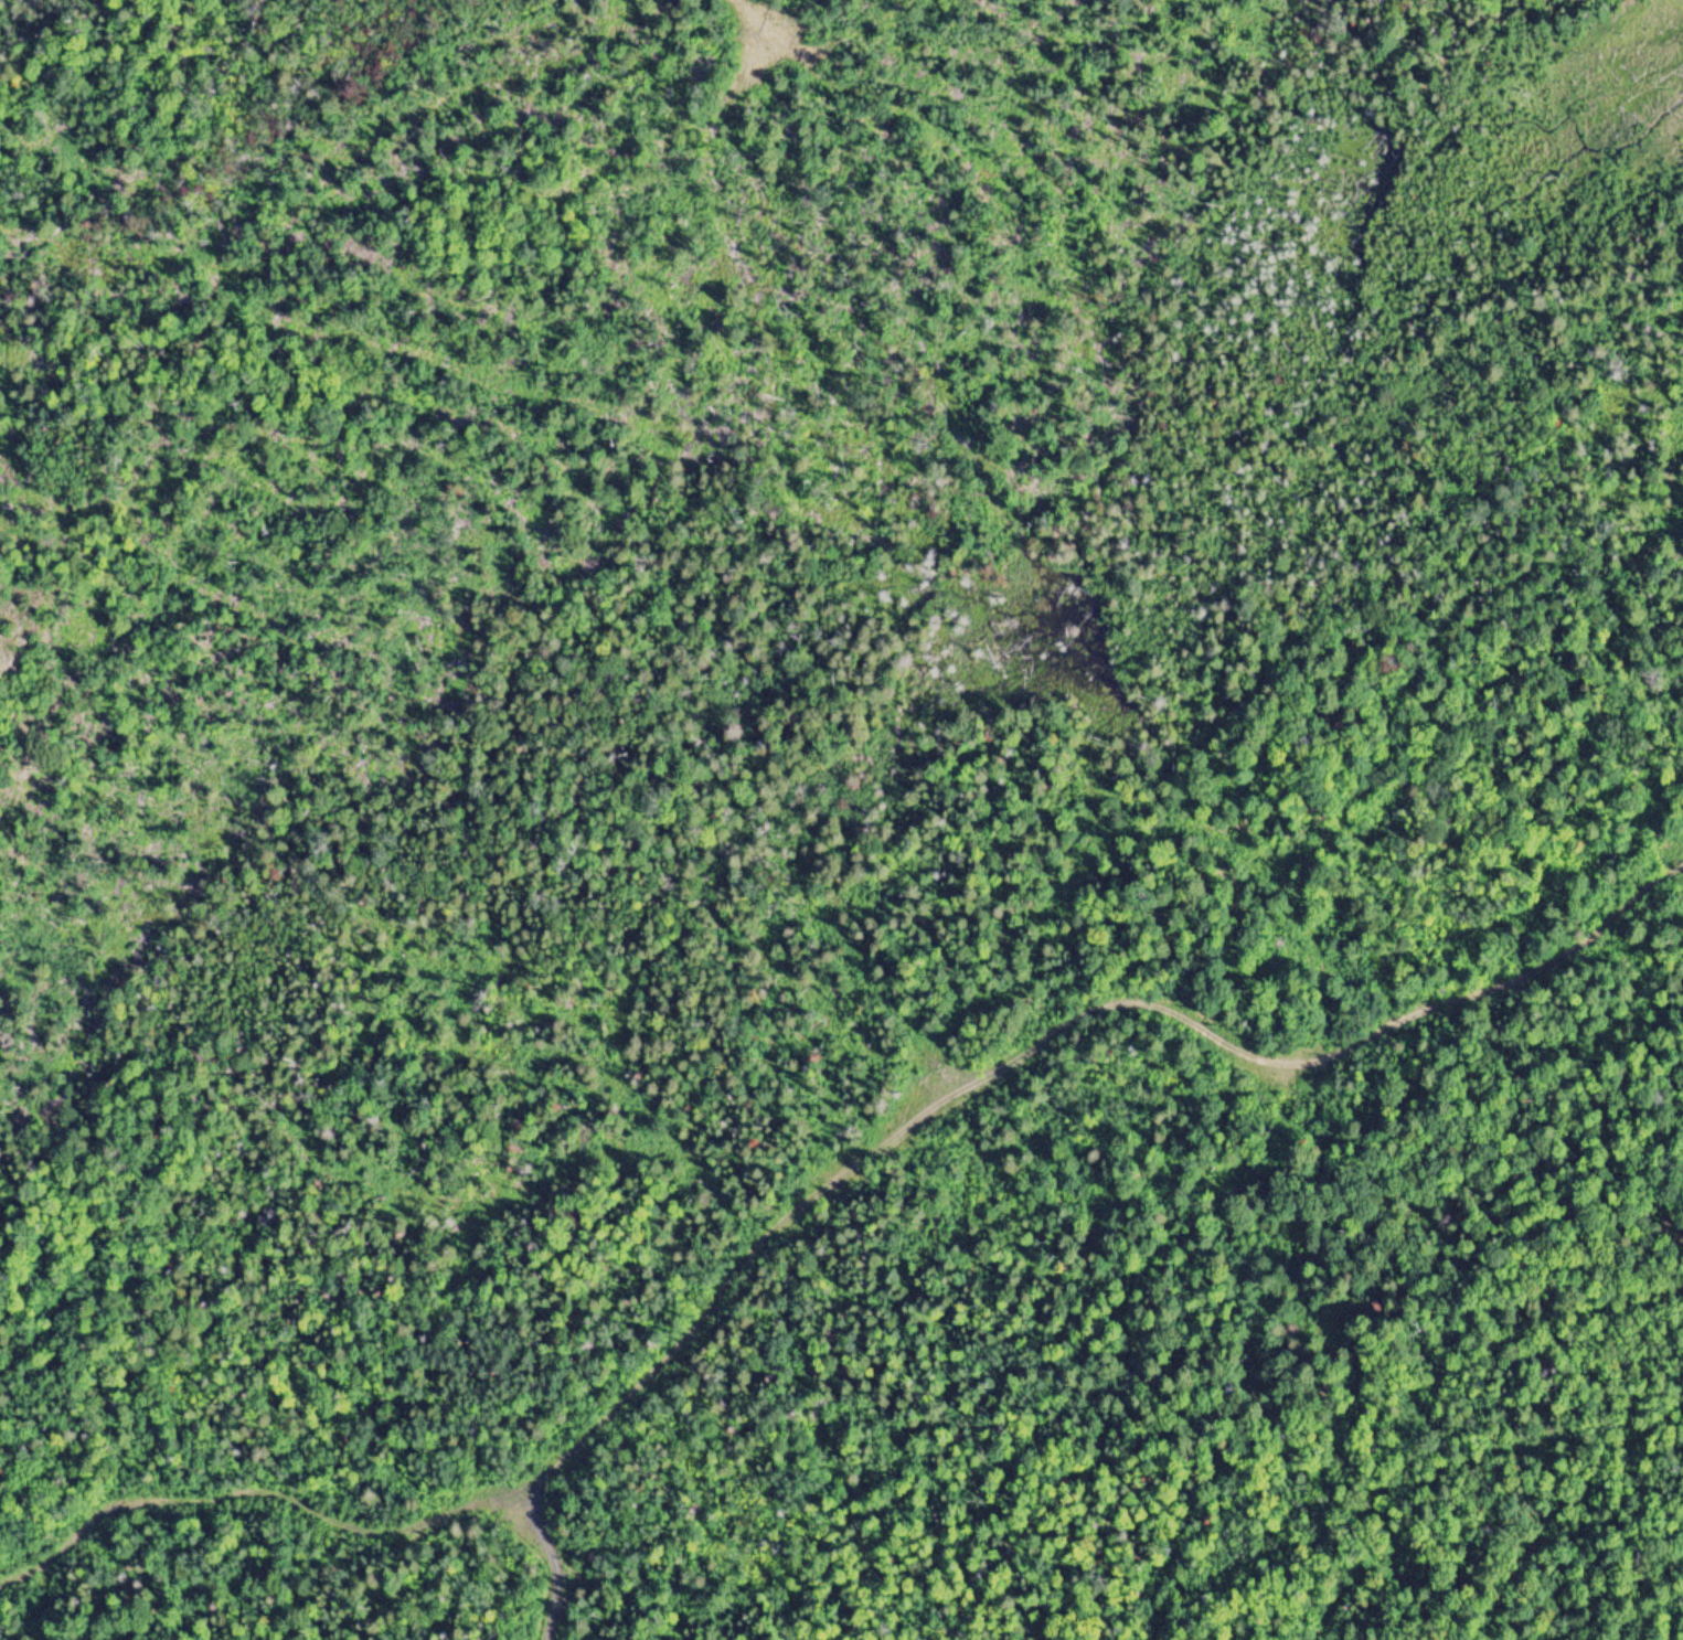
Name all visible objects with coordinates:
road: (992, 1074)

